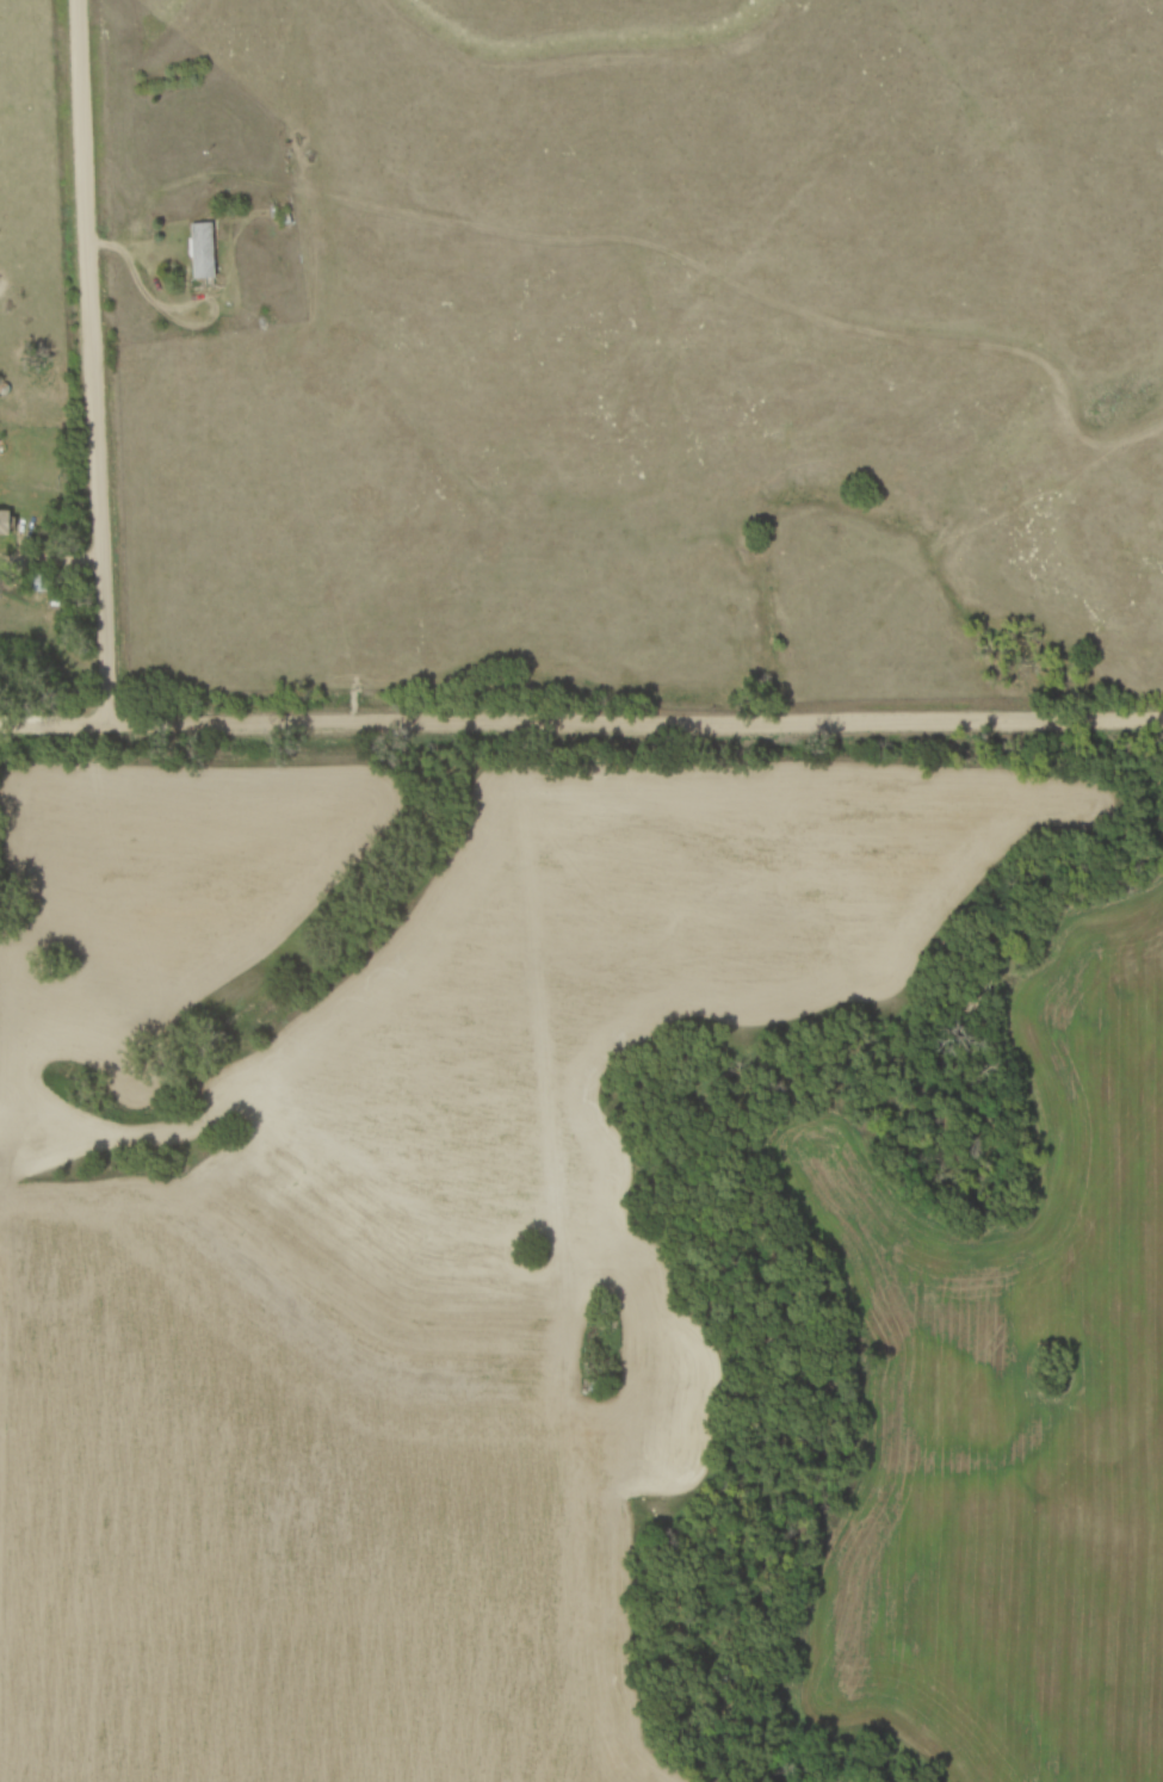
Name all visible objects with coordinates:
building: (200, 248)
road: (92, 361)
building: (5, 519)
road: (51, 559)
building: (42, 580)
road: (581, 725)

